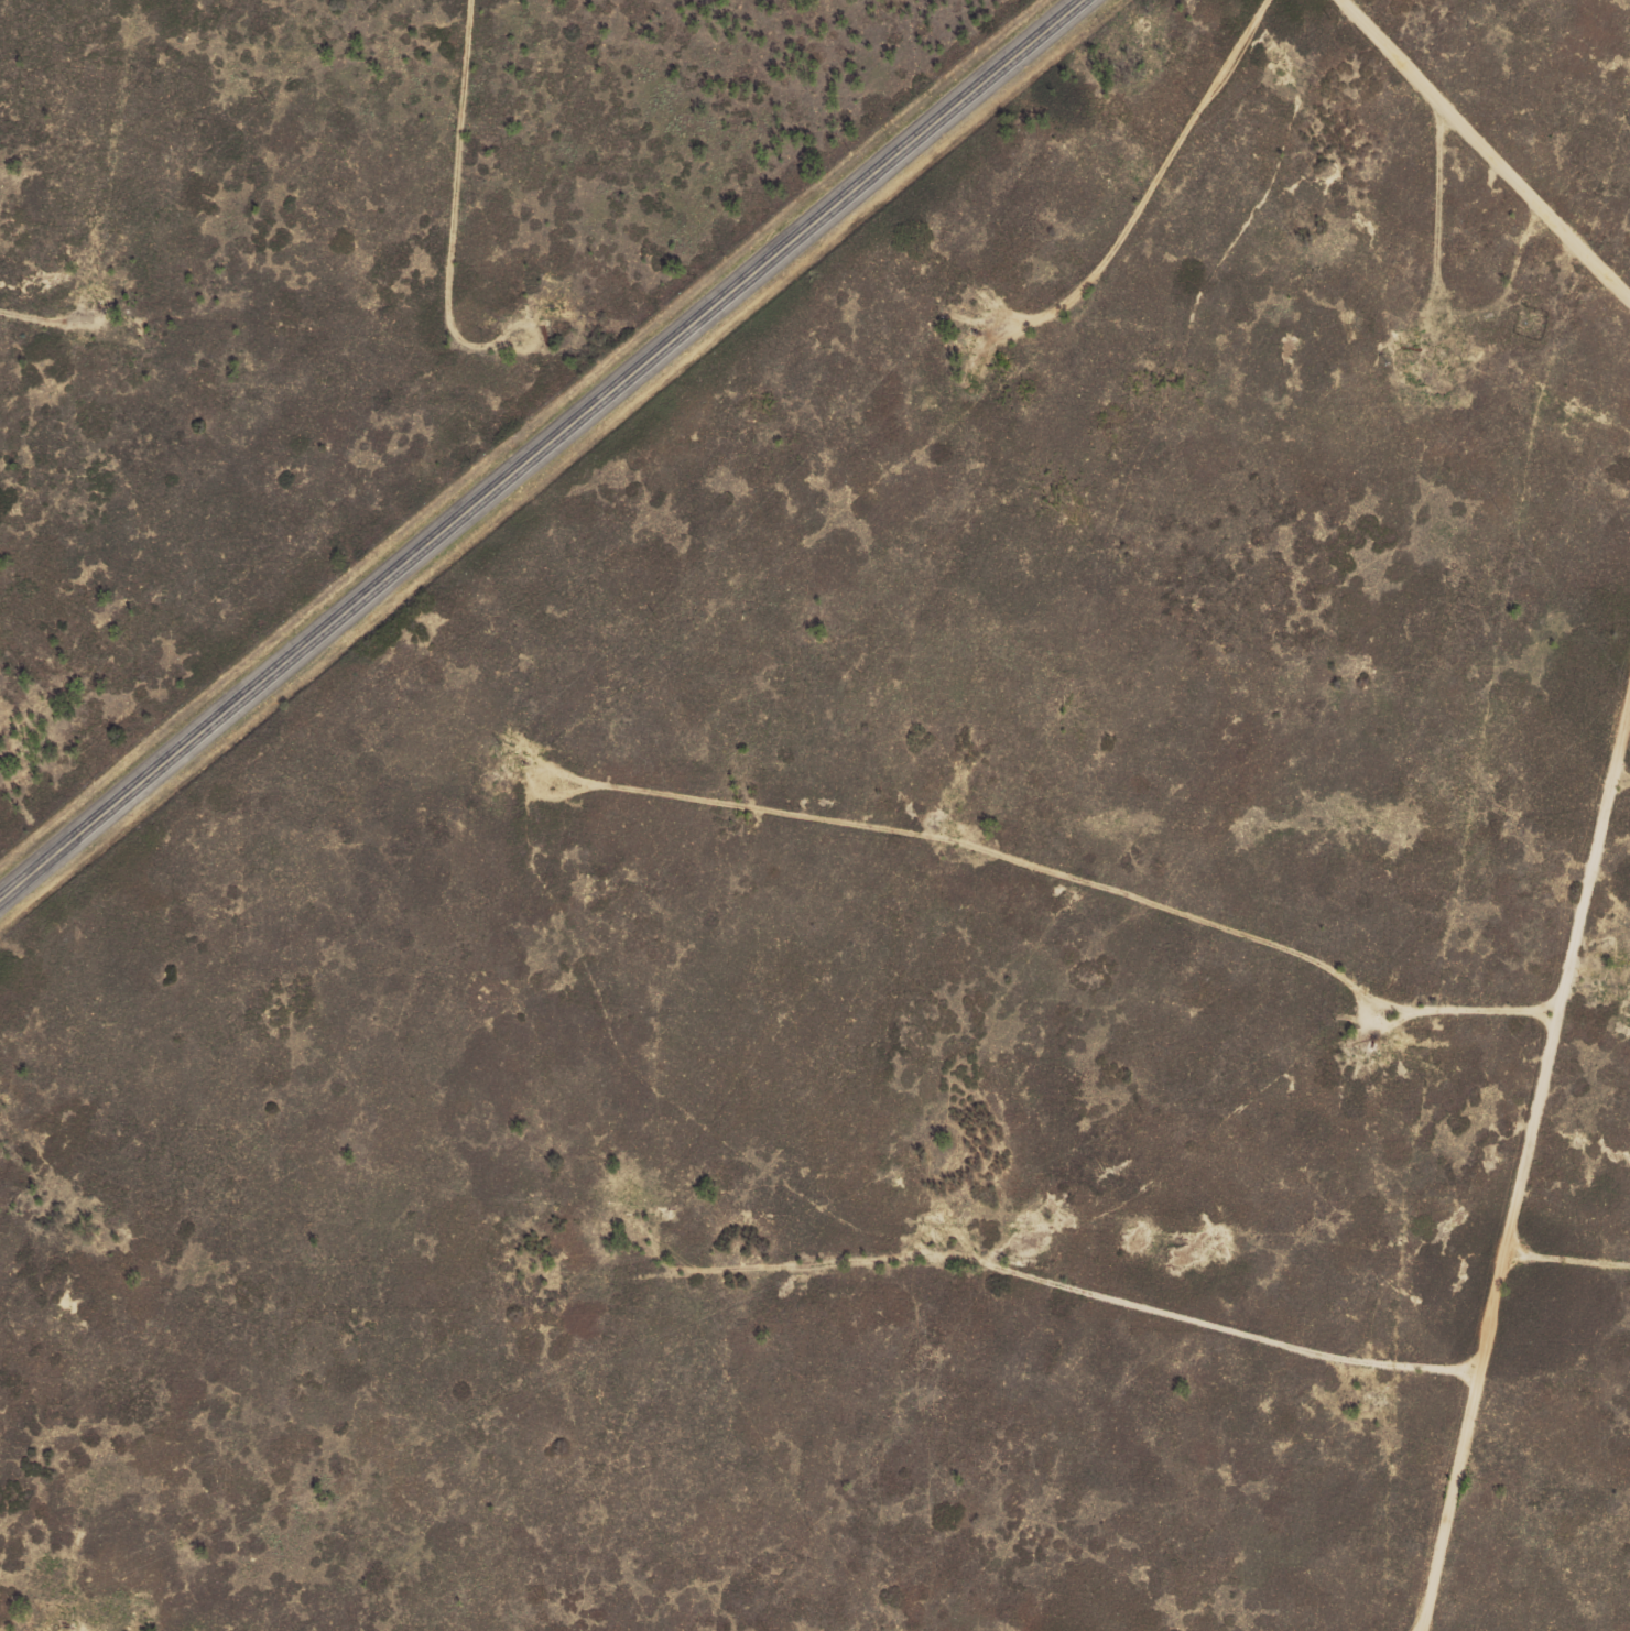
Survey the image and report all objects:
road: (21, 39)
road: (1517, 122)
road: (502, 175)
road: (115, 226)
road: (328, 342)
road: (541, 449)
road: (28, 743)
road: (1120, 890)
road: (1616, 959)
road: (1142, 1280)
road: (1590, 1298)
road: (814, 1437)

